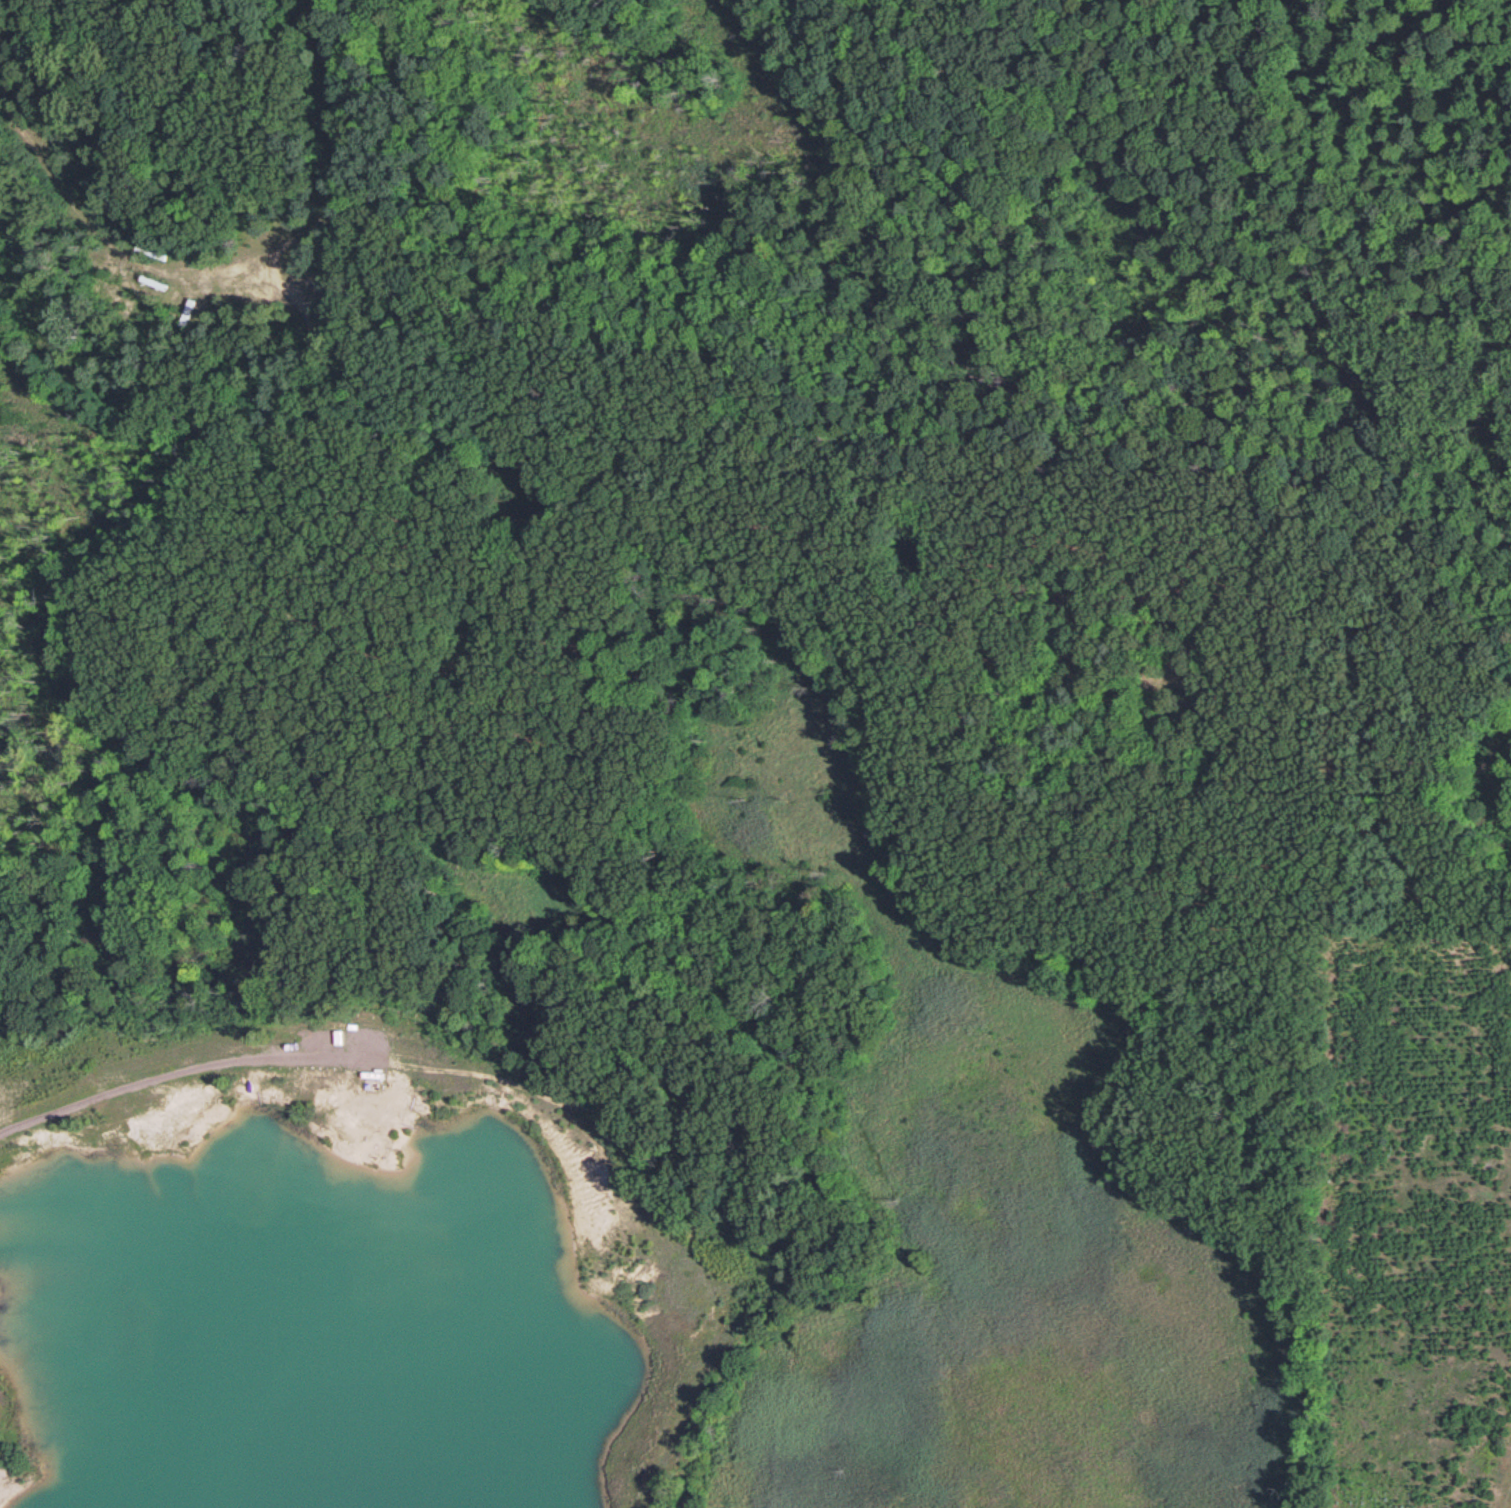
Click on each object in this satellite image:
road: (207, 1062)

